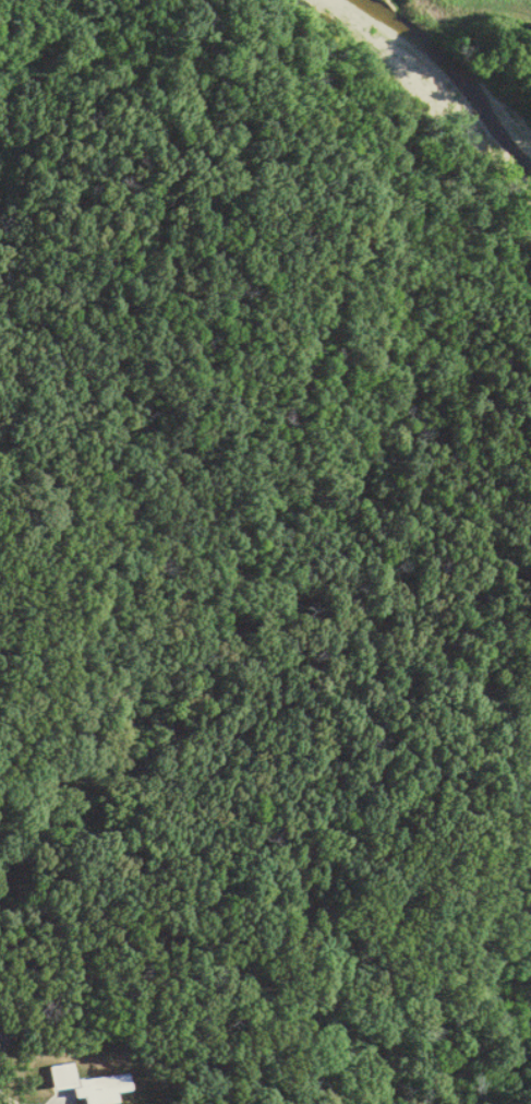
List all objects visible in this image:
building: (84, 1085)
road: (9, 1100)

